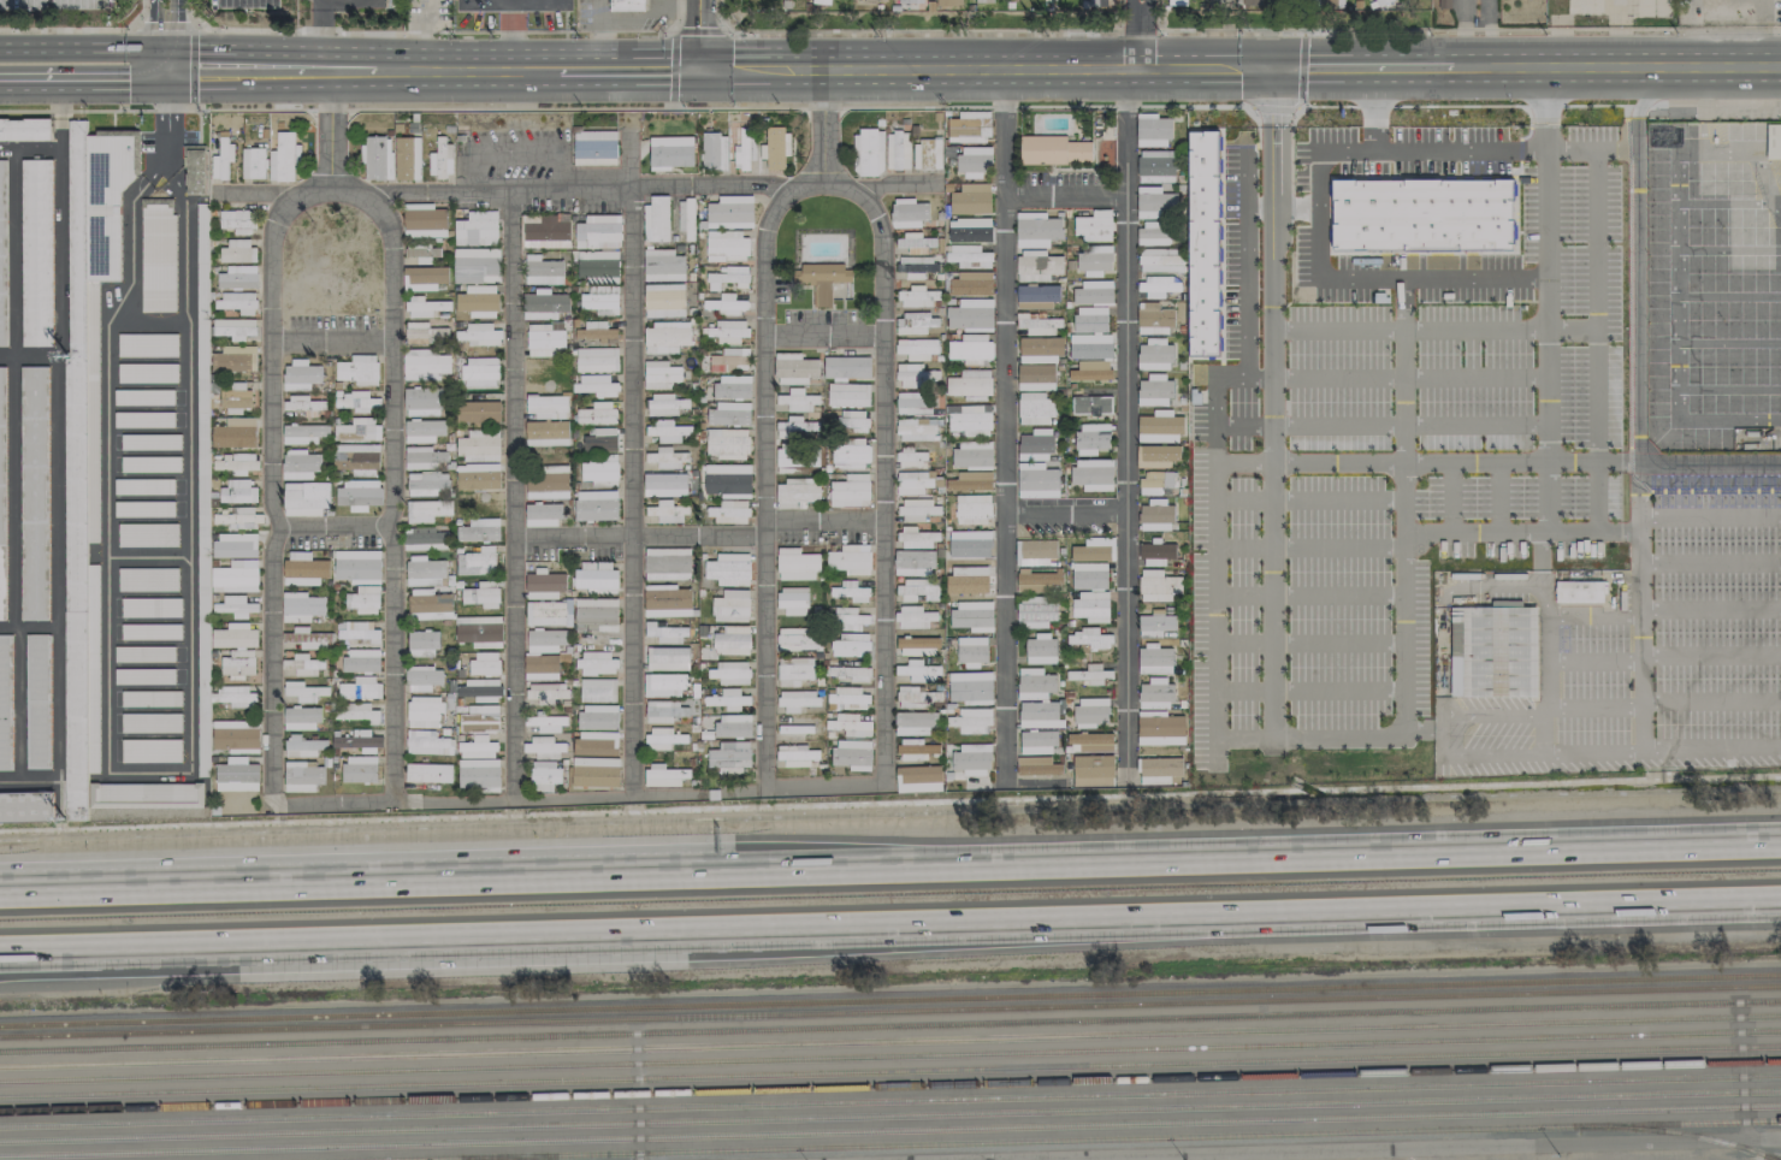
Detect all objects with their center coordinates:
building: (818, 1)
building: (984, 1)
building: (1383, 1)
building: (1177, 2)
building: (1248, 2)
building: (1327, 2)
parking lot: (301, 4)
building: (910, 4)
building: (1100, 4)
building: (1443, 4)
parking lot: (349, 5)
road: (538, 5)
building: (626, 5)
road: (720, 14)
road: (162, 22)
road: (1539, 28)
road: (79, 29)
road: (1137, 29)
road: (1231, 29)
road: (917, 30)
road: (167, 31)
road: (438, 31)
road: (515, 31)
road: (319, 35)
road: (1690, 35)
road: (1486, 36)
road: (598, 37)
road: (670, 37)
road: (702, 37)
road: (1131, 37)
road: (1150, 37)
road: (85, 48)
road: (193, 66)
road: (270, 67)
road: (466, 72)
road: (1616, 72)
road: (1363, 73)
road: (631, 75)
road: (988, 76)
road: (87, 87)
road: (1298, 96)
road: (1650, 105)
road: (1418, 106)
road: (891, 107)
road: (1199, 107)
road: (438, 108)
road: (146, 110)
road: (1548, 110)
road: (57, 111)
road: (167, 112)
road: (1374, 112)
road: (199, 124)
road: (822, 128)
building: (968, 128)
building: (25, 129)
road: (327, 129)
building: (1153, 130)
road: (1237, 146)
road: (1520, 146)
building: (775, 147)
building: (594, 148)
road: (1592, 148)
road: (1749, 148)
building: (745, 149)
building: (898, 150)
building: (1053, 150)
building: (868, 152)
building: (670, 153)
building: (927, 154)
building: (377, 156)
building: (284, 158)
building: (407, 158)
building: (440, 158)
building: (221, 159)
road: (165, 160)
building: (974, 161)
building: (253, 162)
building: (1156, 167)
building: (195, 170)
road: (895, 184)
road: (331, 188)
road: (585, 188)
building: (970, 199)
road: (1065, 199)
building: (1156, 202)
road: (1280, 207)
building: (730, 212)
building: (909, 212)
road: (1318, 214)
building: (1422, 214)
building: (686, 218)
building: (656, 219)
building: (424, 220)
building: (237, 221)
building: (1093, 226)
building: (477, 229)
building: (970, 230)
building: (1036, 230)
building: (544, 231)
building: (598, 232)
road: (1551, 237)
building: (1203, 243)
building: (726, 244)
road: (57, 247)
building: (237, 250)
building: (421, 250)
building: (36, 253)
road: (1331, 253)
building: (158, 255)
building: (202, 255)
building: (969, 256)
building: (2, 260)
building: (1095, 260)
road: (1244, 261)
building: (663, 265)
building: (477, 266)
building: (1037, 266)
building: (918, 267)
road: (1221, 267)
road: (1271, 268)
building: (543, 271)
building: (237, 277)
building: (728, 277)
building: (424, 278)
building: (826, 282)
building: (971, 284)
road: (1628, 285)
building: (1160, 286)
building: (1094, 292)
building: (1037, 296)
building: (917, 297)
road: (1676, 297)
building: (600, 298)
building: (664, 300)
building: (478, 301)
building: (238, 302)
building: (544, 304)
building: (727, 304)
road: (1593, 306)
building: (425, 307)
building: (970, 314)
road: (148, 316)
building: (1153, 319)
building: (1090, 320)
building: (915, 324)
building: (1039, 324)
building: (235, 329)
road: (1412, 329)
road: (1573, 329)
building: (728, 331)
building: (596, 332)
building: (425, 333)
building: (479, 335)
road: (823, 335)
building: (665, 337)
road: (331, 339)
building: (545, 339)
building: (1089, 344)
building: (917, 348)
building: (970, 349)
building: (1041, 349)
building: (1154, 356)
building: (235, 359)
building: (597, 360)
building: (730, 360)
building: (426, 363)
building: (848, 363)
building: (794, 368)
building: (359, 369)
building: (1091, 371)
road: (1403, 371)
building: (480, 373)
building: (301, 374)
building: (659, 374)
building: (543, 377)
building: (916, 377)
building: (1036, 377)
road: (1410, 378)
building: (969, 384)
building: (597, 385)
building: (733, 386)
building: (1154, 390)
road: (1215, 392)
building: (236, 395)
building: (848, 395)
road: (1552, 395)
building: (798, 400)
building: (357, 401)
building: (422, 402)
building: (912, 403)
building: (304, 404)
building: (664, 404)
building: (1091, 404)
building: (548, 407)
building: (1035, 409)
building: (478, 412)
building: (597, 414)
building: (728, 414)
building: (969, 420)
building: (852, 421)
road: (1128, 422)
road: (1002, 426)
road: (1412, 426)
building: (85, 428)
building: (798, 428)
building: (1159, 428)
building: (359, 430)
building: (422, 431)
building: (667, 431)
building: (915, 431)
building: (235, 433)
building: (304, 433)
building: (546, 433)
building: (1091, 438)
building: (600, 440)
building: (727, 443)
building: (1036, 444)
building: (479, 445)
building: (971, 454)
building: (798, 455)
building: (851, 456)
building: (1156, 456)
building: (425, 457)
building: (357, 458)
building: (668, 458)
building: (911, 458)
building: (235, 462)
road: (1431, 462)
building: (300, 464)
road: (883, 464)
road: (764, 467)
building: (599, 470)
road: (1769, 470)
road: (1682, 472)
road: (1699, 472)
road: (1751, 472)
road: (1716, 473)
road: (1733, 473)
building: (1093, 474)
building: (478, 475)
road: (1709, 478)
building: (728, 479)
building: (1036, 480)
building: (970, 481)
building: (1155, 481)
building: (426, 483)
building: (549, 483)
building: (913, 483)
building: (665, 485)
building: (1, 490)
road: (633, 490)
building: (237, 491)
building: (851, 491)
road: (1687, 491)
building: (32, 492)
building: (797, 492)
building: (357, 495)
road: (511, 495)
road: (1450, 497)
road: (1498, 497)
road: (1551, 497)
building: (306, 498)
road: (1336, 498)
road: (1242, 499)
building: (481, 503)
building: (596, 505)
building: (917, 509)
building: (972, 509)
building: (427, 510)
building: (668, 510)
building: (735, 511)
road: (1065, 514)
building: (543, 515)
building: (238, 516)
building: (1155, 516)
road: (1709, 516)
road: (824, 519)
road: (332, 526)
building: (479, 531)
road: (1533, 533)
building: (917, 537)
road: (639, 538)
building: (425, 539)
building: (970, 544)
building: (235, 545)
road: (1242, 545)
road: (1336, 546)
building: (1036, 551)
building: (1095, 552)
building: (1156, 554)
road: (136, 557)
building: (850, 560)
building: (477, 561)
road: (1539, 561)
building: (913, 562)
building: (667, 563)
building: (797, 564)
building: (357, 566)
building: (304, 569)
building: (729, 569)
building: (425, 572)
road: (1638, 573)
building: (1089, 575)
building: (236, 576)
building: (597, 576)
building: (968, 581)
building: (1037, 581)
building: (545, 585)
building: (1158, 586)
building: (917, 590)
building: (848, 591)
building: (1579, 592)
road: (1336, 593)
building: (483, 594)
road: (1242, 594)
road: (1403, 598)
building: (363, 599)
building: (792, 600)
road: (1270, 600)
building: (430, 603)
building: (301, 606)
building: (732, 606)
building: (1091, 606)
building: (1036, 611)
building: (548, 614)
building: (596, 614)
building: (431, 615)
building: (972, 615)
building: (913, 617)
building: (848, 619)
building: (1155, 625)
building: (479, 631)
building: (667, 632)
building: (359, 633)
building: (312, 637)
building: (1091, 639)
road: (1439, 639)
building: (546, 640)
building: (734, 643)
road: (1308, 644)
building: (850, 645)
building: (917, 645)
building: (237, 649)
building: (1041, 649)
building: (1493, 650)
building: (810, 653)
building: (667, 658)
building: (361, 659)
building: (1155, 659)
building: (422, 662)
building: (485, 663)
building: (303, 664)
building: (597, 664)
building: (540, 667)
road: (1214, 668)
building: (919, 671)
building: (730, 673)
building: (848, 673)
building: (1088, 674)
building: (663, 685)
building: (970, 687)
building: (360, 688)
building: (598, 690)
road: (1308, 690)
building: (304, 691)
building: (549, 693)
building: (917, 694)
building: (1156, 694)
building: (235, 696)
building: (846, 698)
building: (730, 699)
building: (1039, 699)
building: (797, 700)
building: (36, 702)
building: (5, 704)
building: (425, 711)
building: (663, 711)
building: (1091, 711)
building: (356, 712)
building: (598, 717)
building: (301, 718)
building: (480, 718)
building: (971, 721)
building: (546, 723)
building: (915, 723)
building: (733, 724)
building: (850, 724)
building: (1161, 728)
building: (236, 736)
building: (665, 739)
building: (359, 740)
building: (1091, 741)
building: (426, 742)
building: (1037, 742)
building: (596, 744)
building: (303, 746)
building: (478, 747)
building: (544, 748)
road: (1710, 748)
building: (915, 750)
building: (729, 754)
building: (852, 754)
building: (795, 756)
building: (972, 758)
building: (1037, 767)
building: (360, 769)
building: (1159, 769)
building: (1093, 770)
building: (596, 771)
building: (428, 773)
building: (479, 774)
building: (237, 775)
building: (662, 775)
building: (302, 776)
building: (919, 779)
road: (579, 795)
building: (25, 807)
road: (1256, 864)
road: (401, 888)
road: (35, 894)
road: (35, 898)
road: (889, 930)
road: (73, 959)
railway: (891, 1000)
railway: (891, 1011)
railway: (891, 1025)
railway: (891, 1041)
railway: (891, 1057)
railway: (891, 1071)
railway: (891, 1087)
railway: (891, 1101)
railway: (891, 1117)
railway: (891, 1131)
railway: (1676, 1132)
railway: (1063, 1140)
road: (1407, 1148)
railway: (499, 1158)

